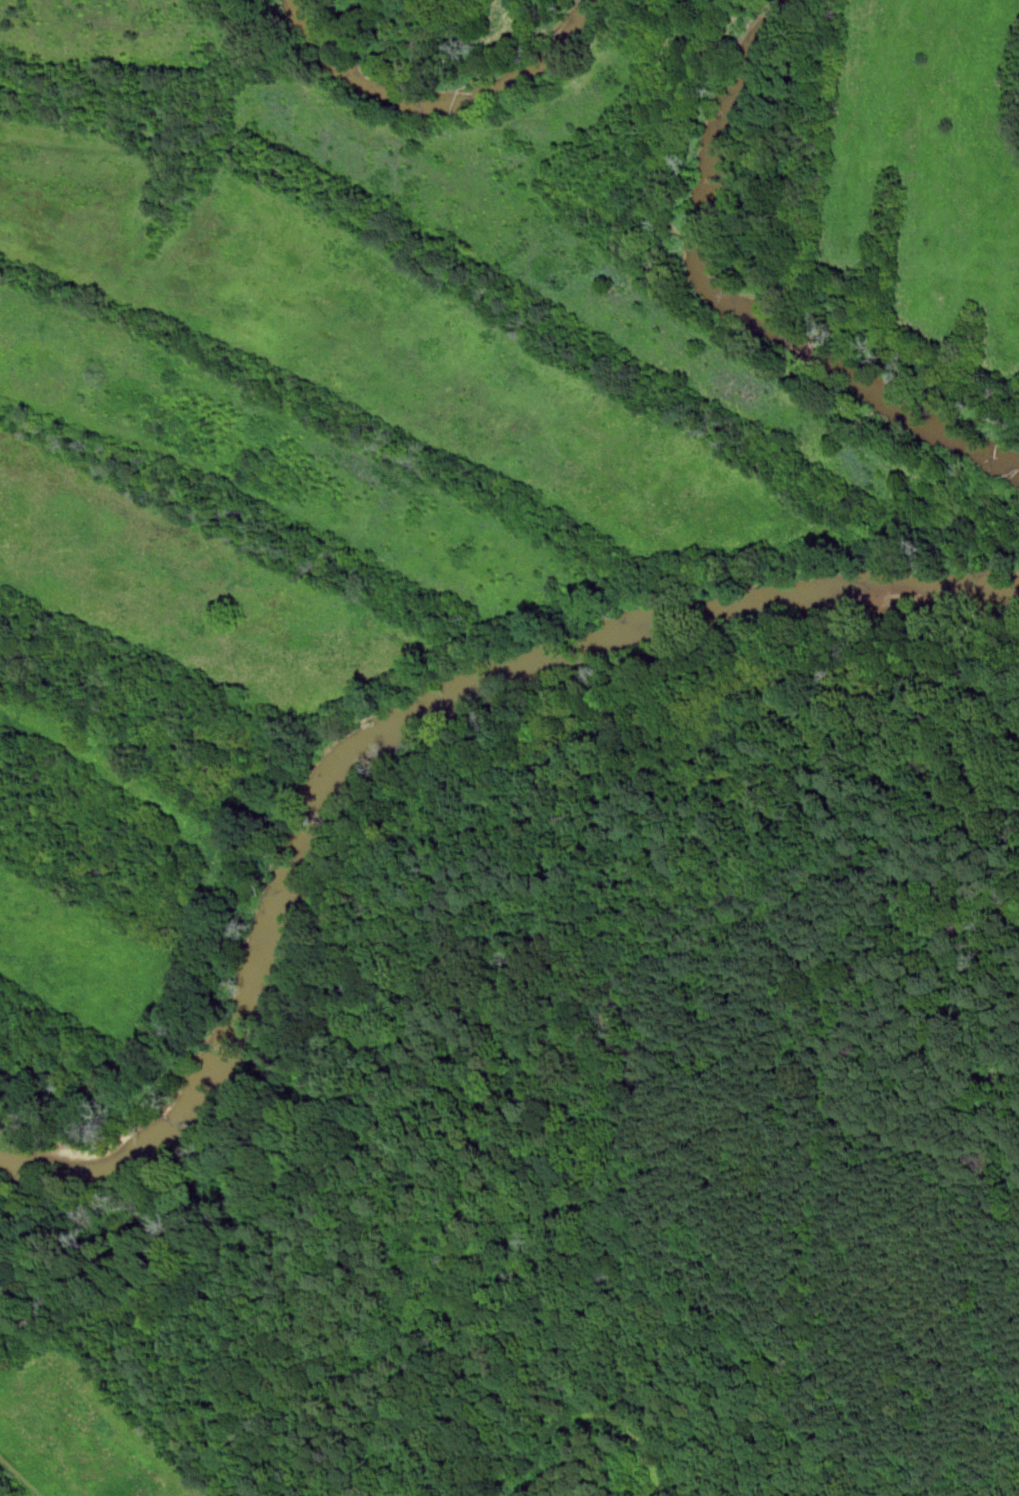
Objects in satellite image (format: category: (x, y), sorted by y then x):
river: (440, 108)
river: (732, 306)
river: (390, 731)
road: (397, 1089)
road: (1006, 1480)

